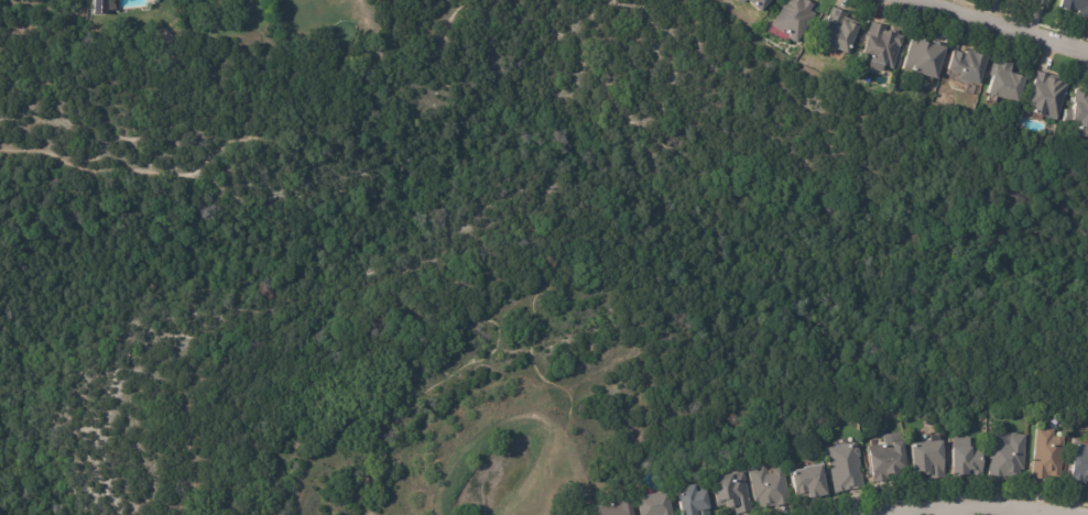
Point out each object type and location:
building: (739, 0)
building: (1043, 1)
building: (758, 3)
building: (104, 6)
building: (1076, 6)
building: (794, 17)
road: (999, 25)
building: (838, 31)
building: (881, 44)
building: (924, 55)
building: (968, 64)
building: (1005, 79)
building: (1047, 95)
building: (1079, 108)
building: (1048, 453)
building: (1008, 456)
building: (888, 457)
building: (928, 458)
building: (966, 458)
building: (1080, 463)
building: (846, 467)
building: (808, 481)
building: (768, 486)
building: (731, 491)
building: (693, 501)
building: (654, 504)
building: (616, 507)
road: (979, 507)

